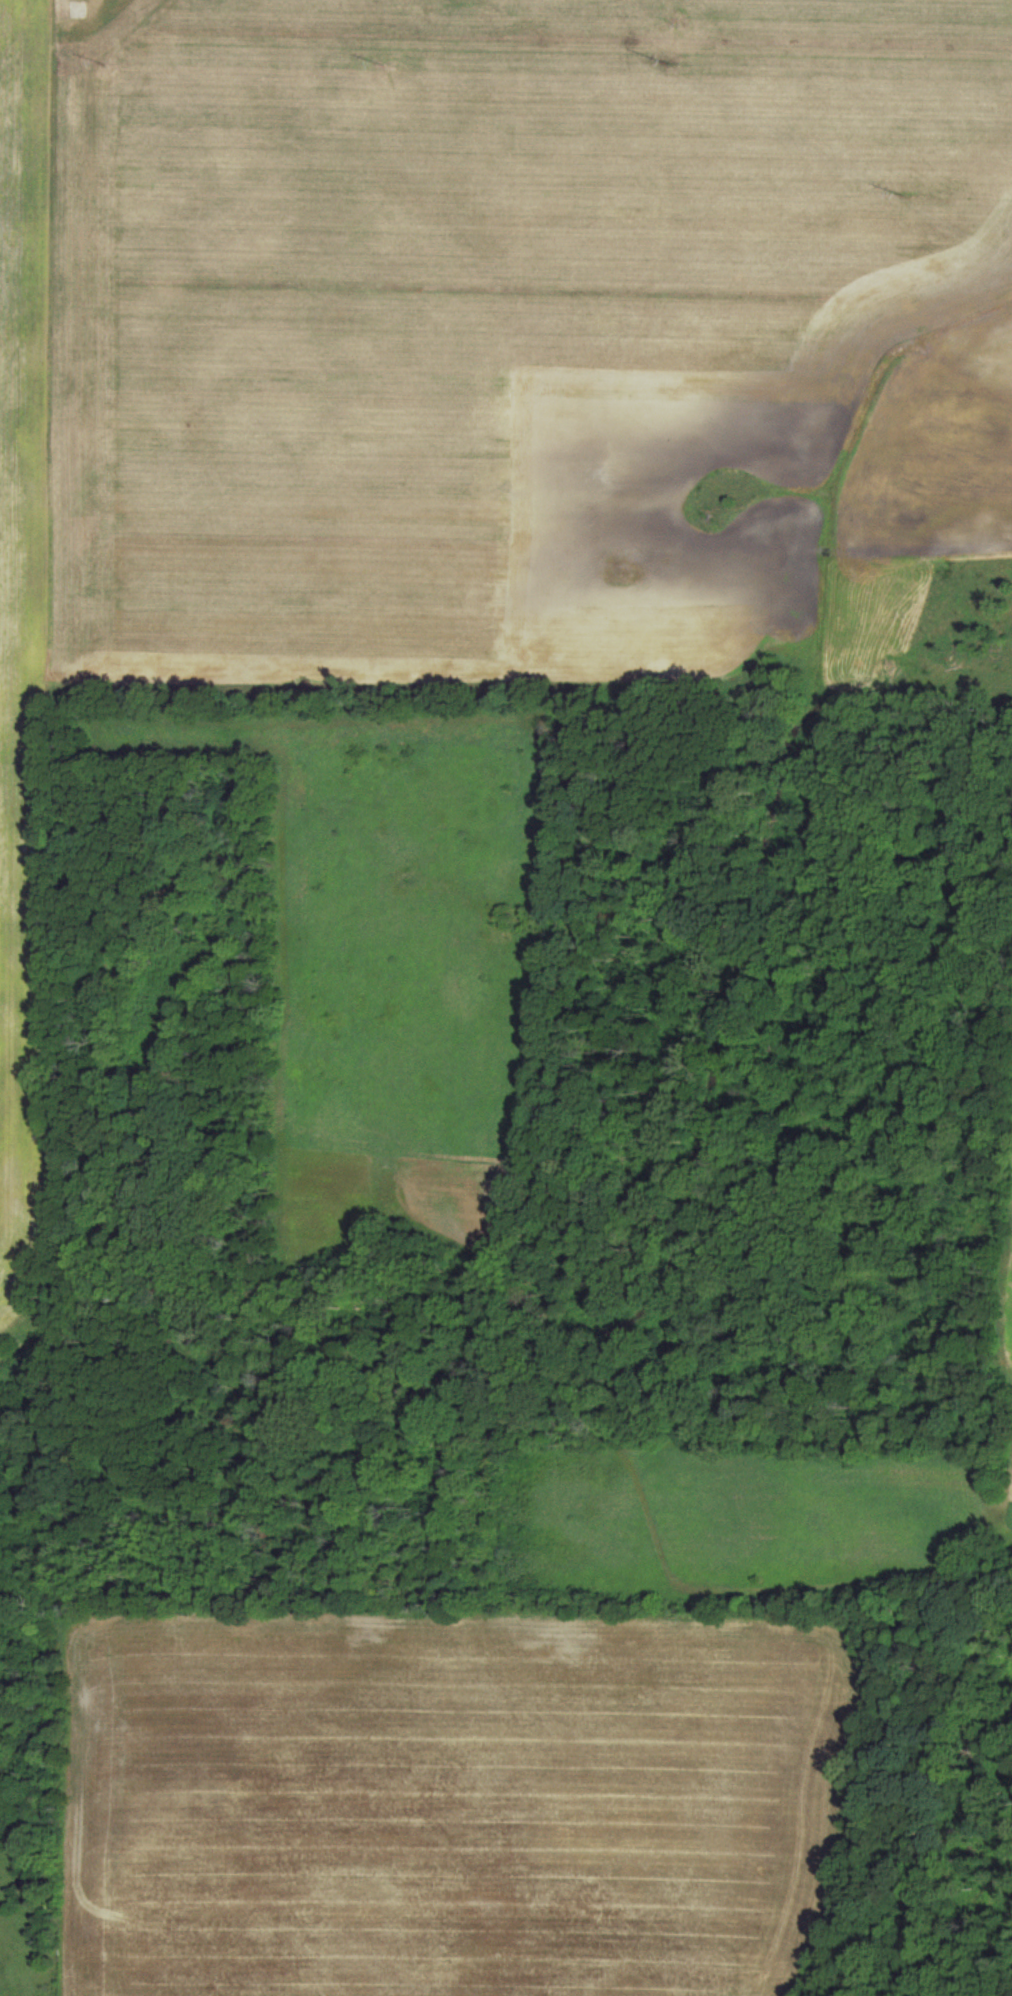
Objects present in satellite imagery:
power tower: (100, 63)
power tower: (387, 66)
power tower: (672, 66)
power tower: (904, 192)

